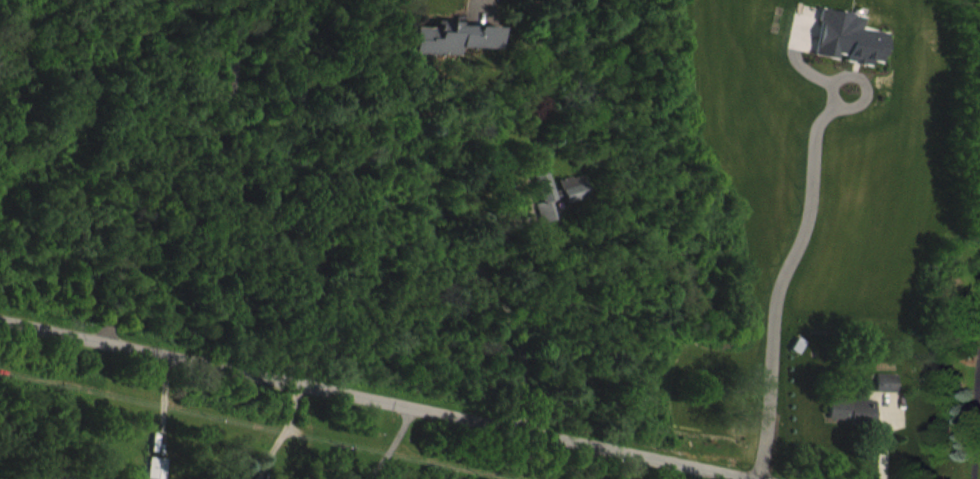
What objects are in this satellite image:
building: (464, 52)
building: (855, 52)
building: (565, 207)
road: (784, 277)
road: (507, 300)
building: (896, 396)
road: (374, 398)
building: (861, 423)
road: (282, 431)
road: (393, 445)
road: (632, 466)
building: (166, 475)

